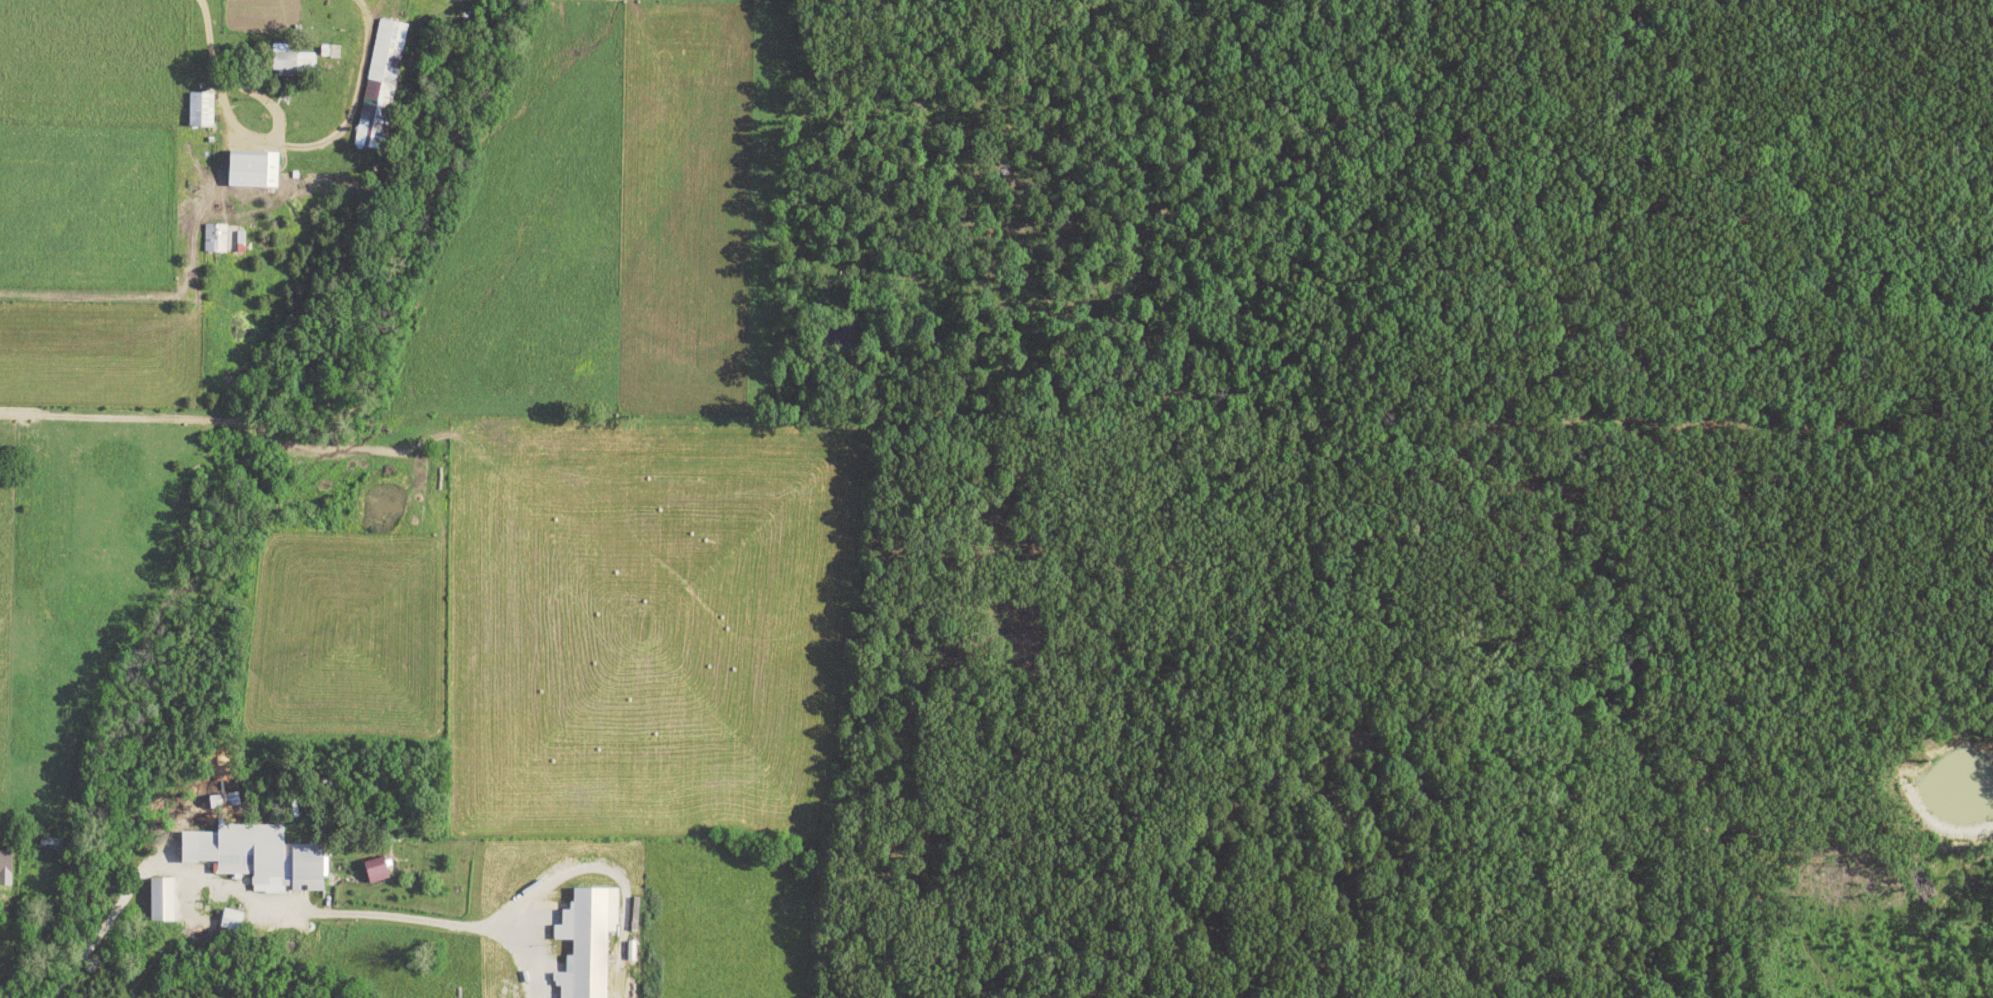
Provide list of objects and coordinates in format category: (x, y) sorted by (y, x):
road: (208, 37)
building: (378, 82)
building: (198, 109)
building: (250, 170)
building: (215, 238)
building: (239, 238)
road: (452, 458)
building: (255, 858)
road: (379, 863)
building: (3, 869)
building: (372, 871)
road: (1331, 872)
building: (159, 900)
building: (230, 920)
building: (585, 942)
road: (1029, 995)

